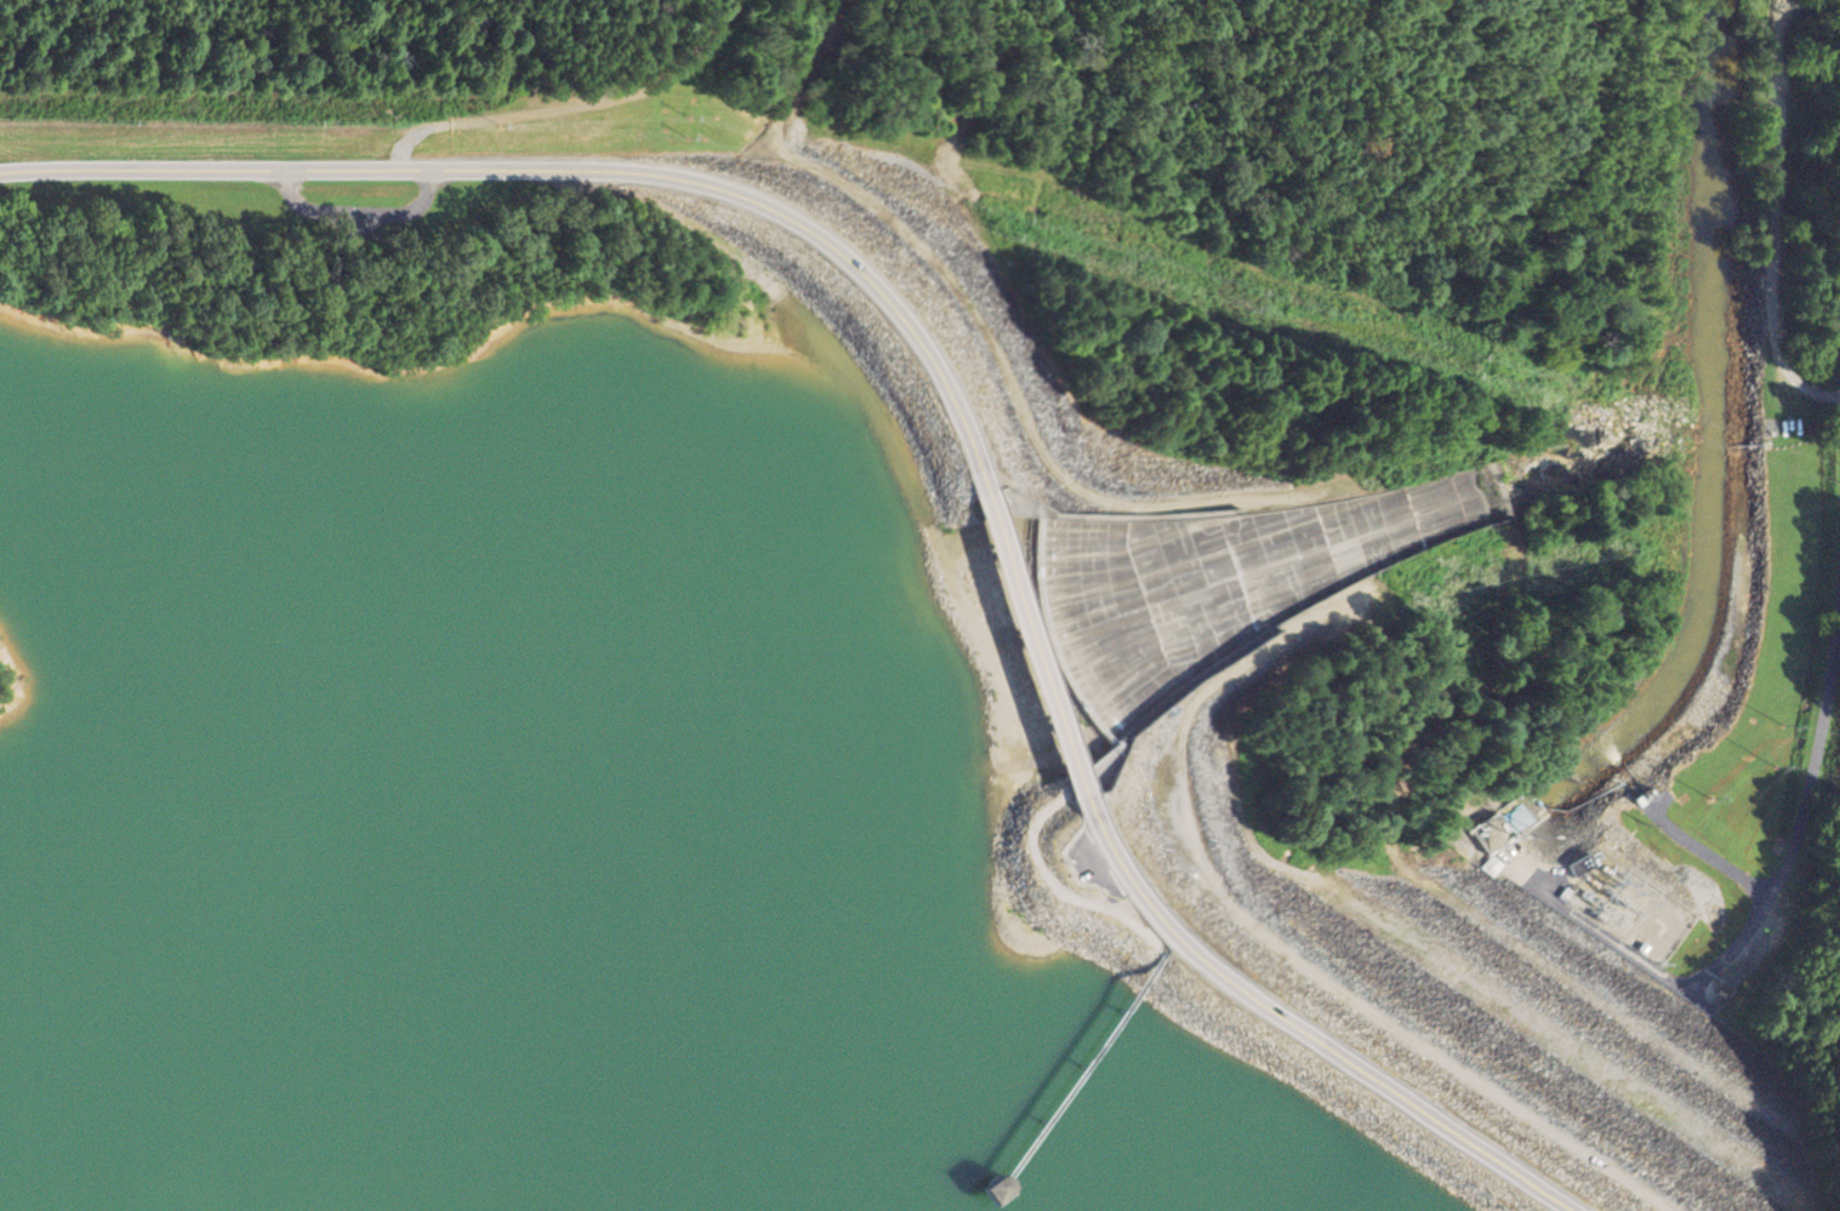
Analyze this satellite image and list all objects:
road: (576, 167)
river: (1715, 439)
road: (1042, 645)
road: (1827, 675)
dam: (1129, 691)
power tower: (1777, 765)
building: (1508, 824)
power substation: (1630, 906)
river: (1355, 909)
road: (1303, 1029)
river: (961, 1035)

